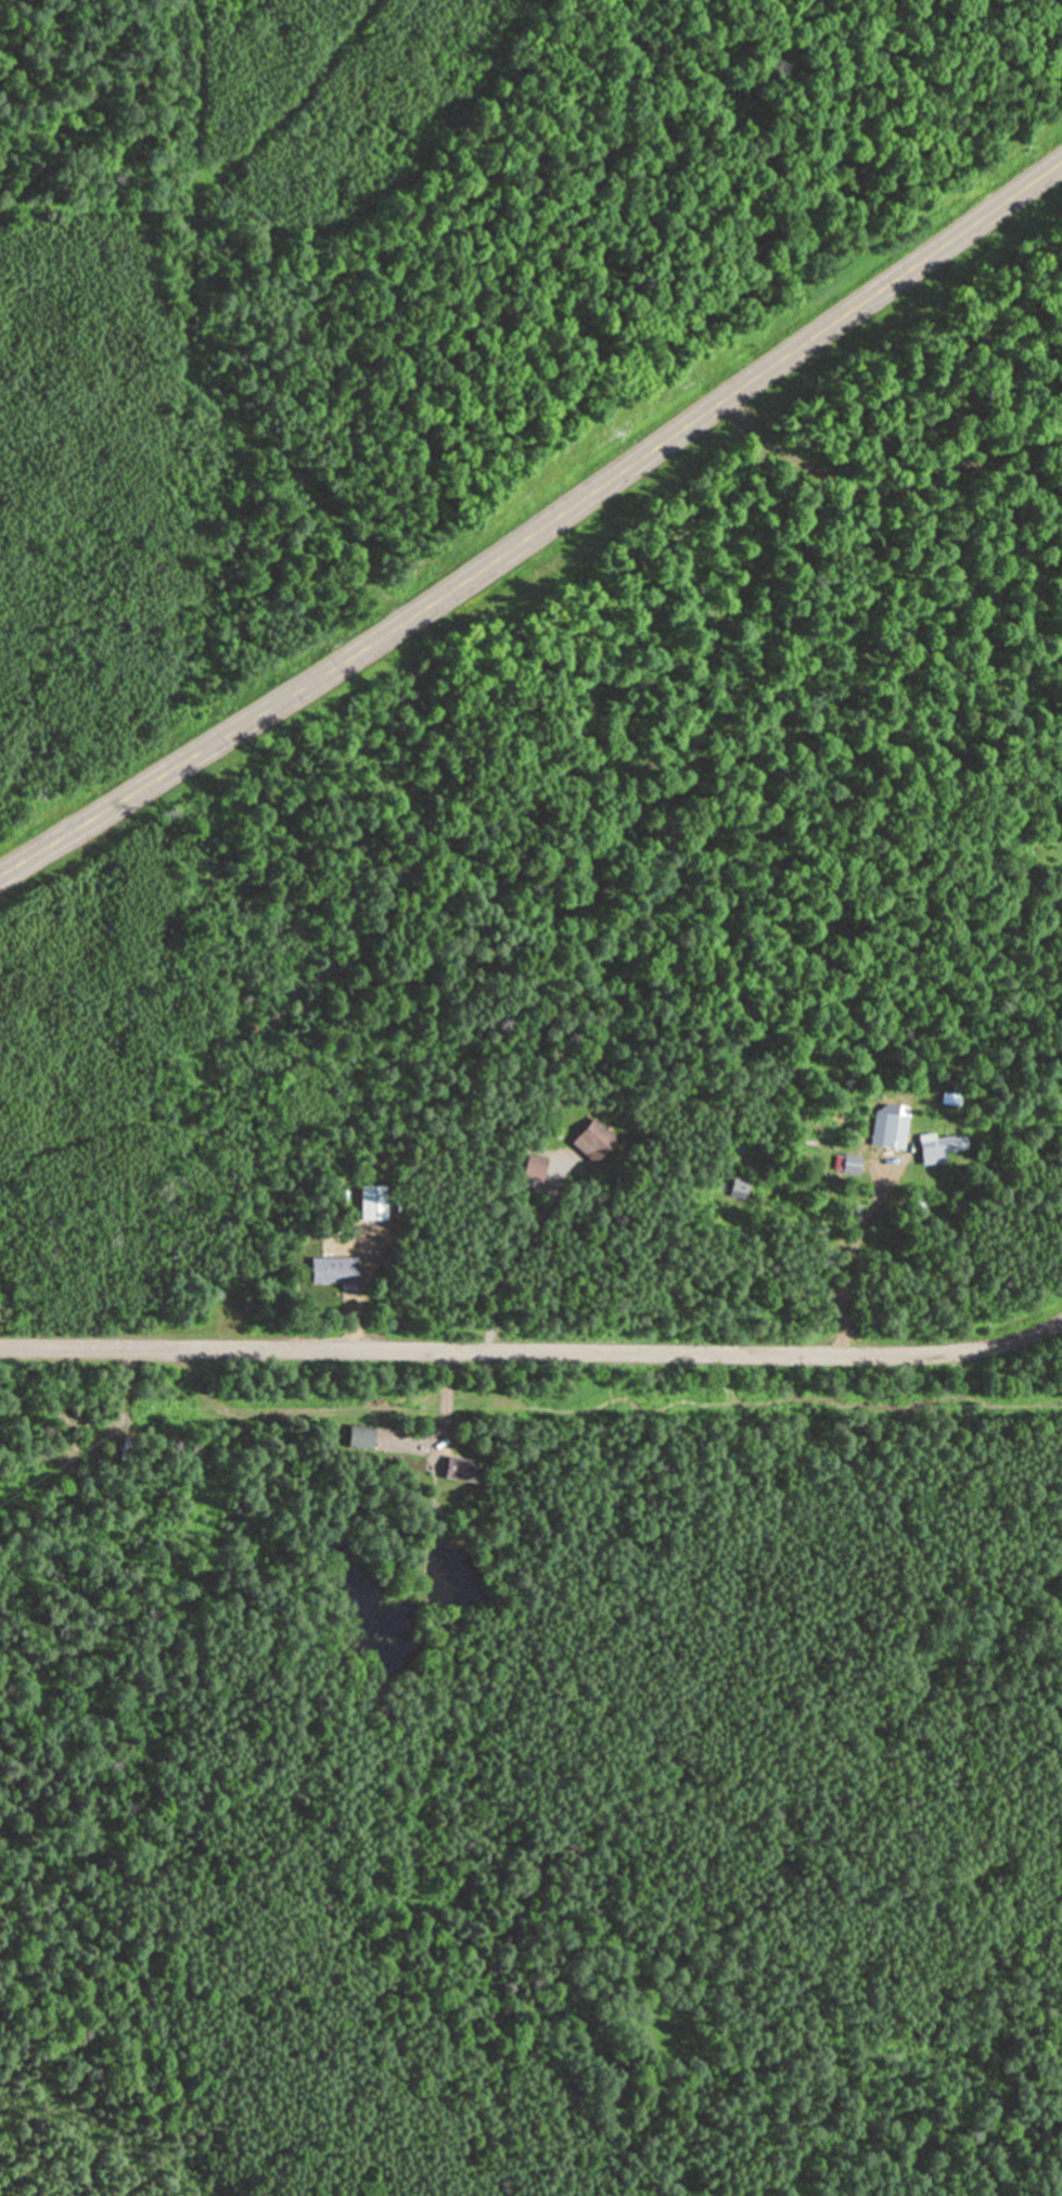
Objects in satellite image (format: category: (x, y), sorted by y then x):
road: (538, 525)
building: (890, 1126)
building: (593, 1139)
building: (941, 1144)
building: (536, 1165)
building: (372, 1199)
road: (843, 1264)
road: (503, 1266)
building: (336, 1268)
road: (348, 1321)
road: (1020, 1331)
road: (489, 1348)
road: (443, 1391)
building: (74, 1412)
building: (361, 1434)
building: (460, 1467)

